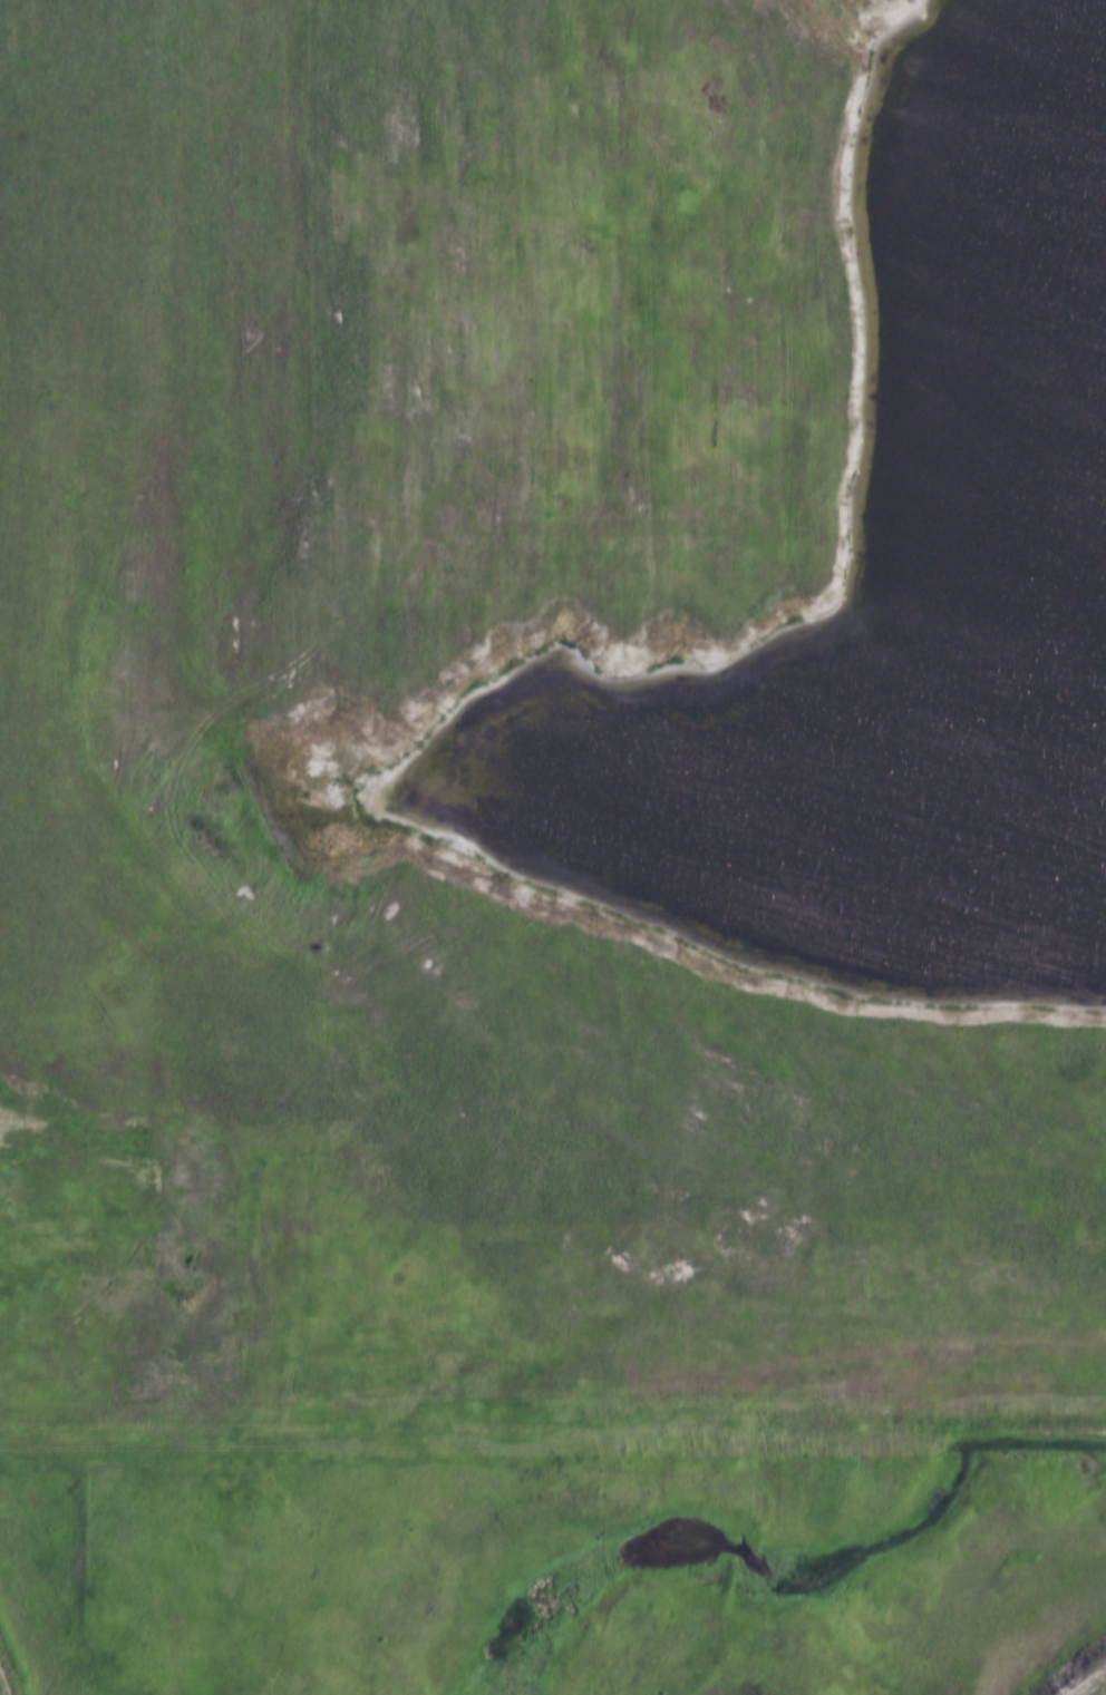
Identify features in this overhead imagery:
quarry: (1077, 1673)
road: (6, 1678)
road: (1085, 1681)

